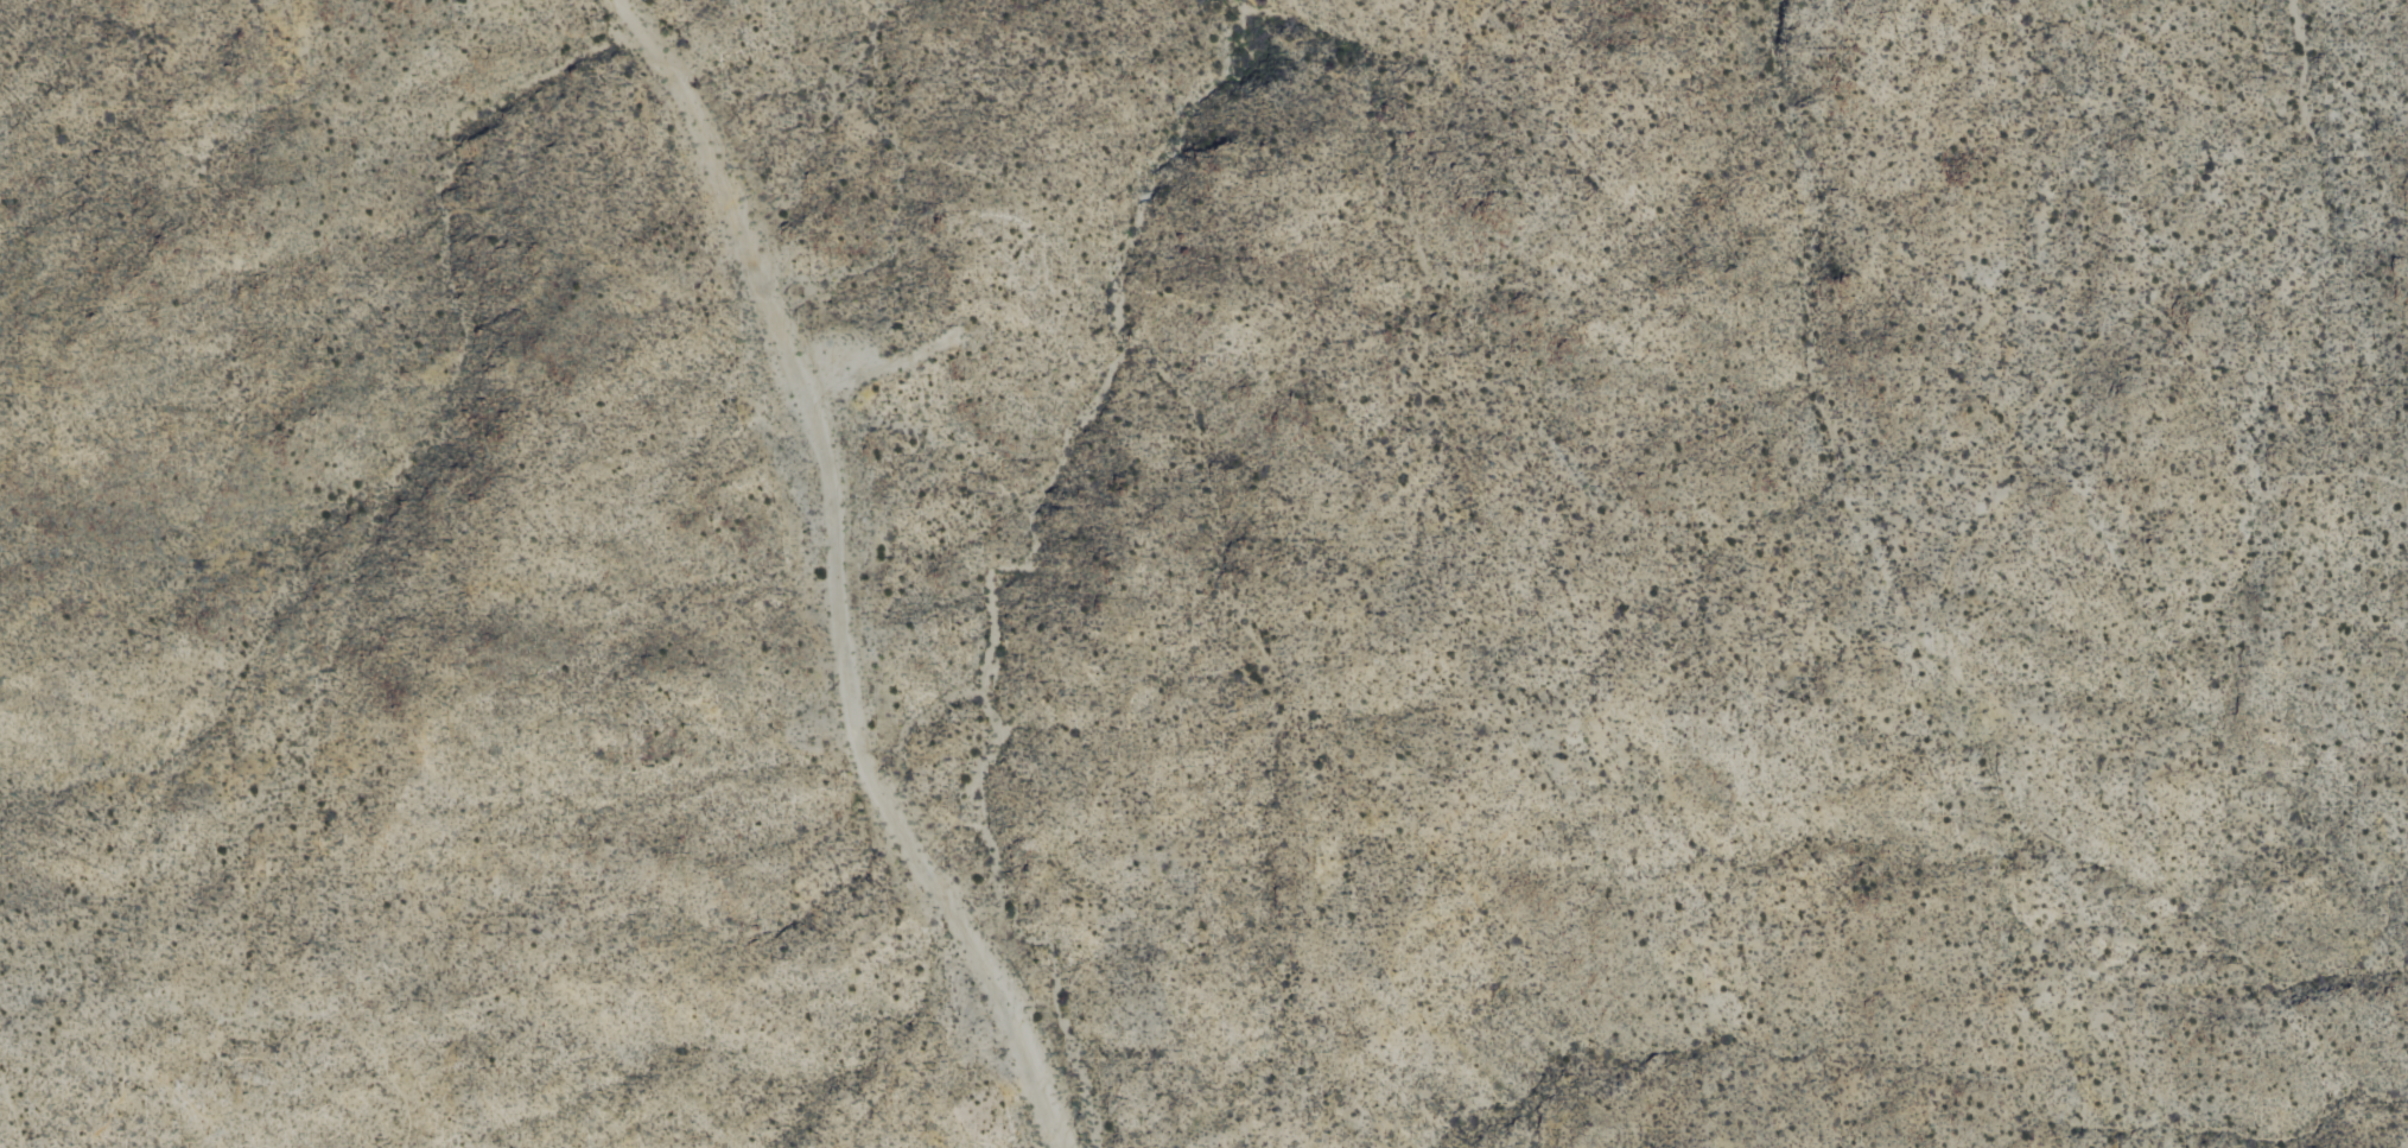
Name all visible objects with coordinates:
road: (834, 576)
road: (221, 1057)
road: (12, 1109)

